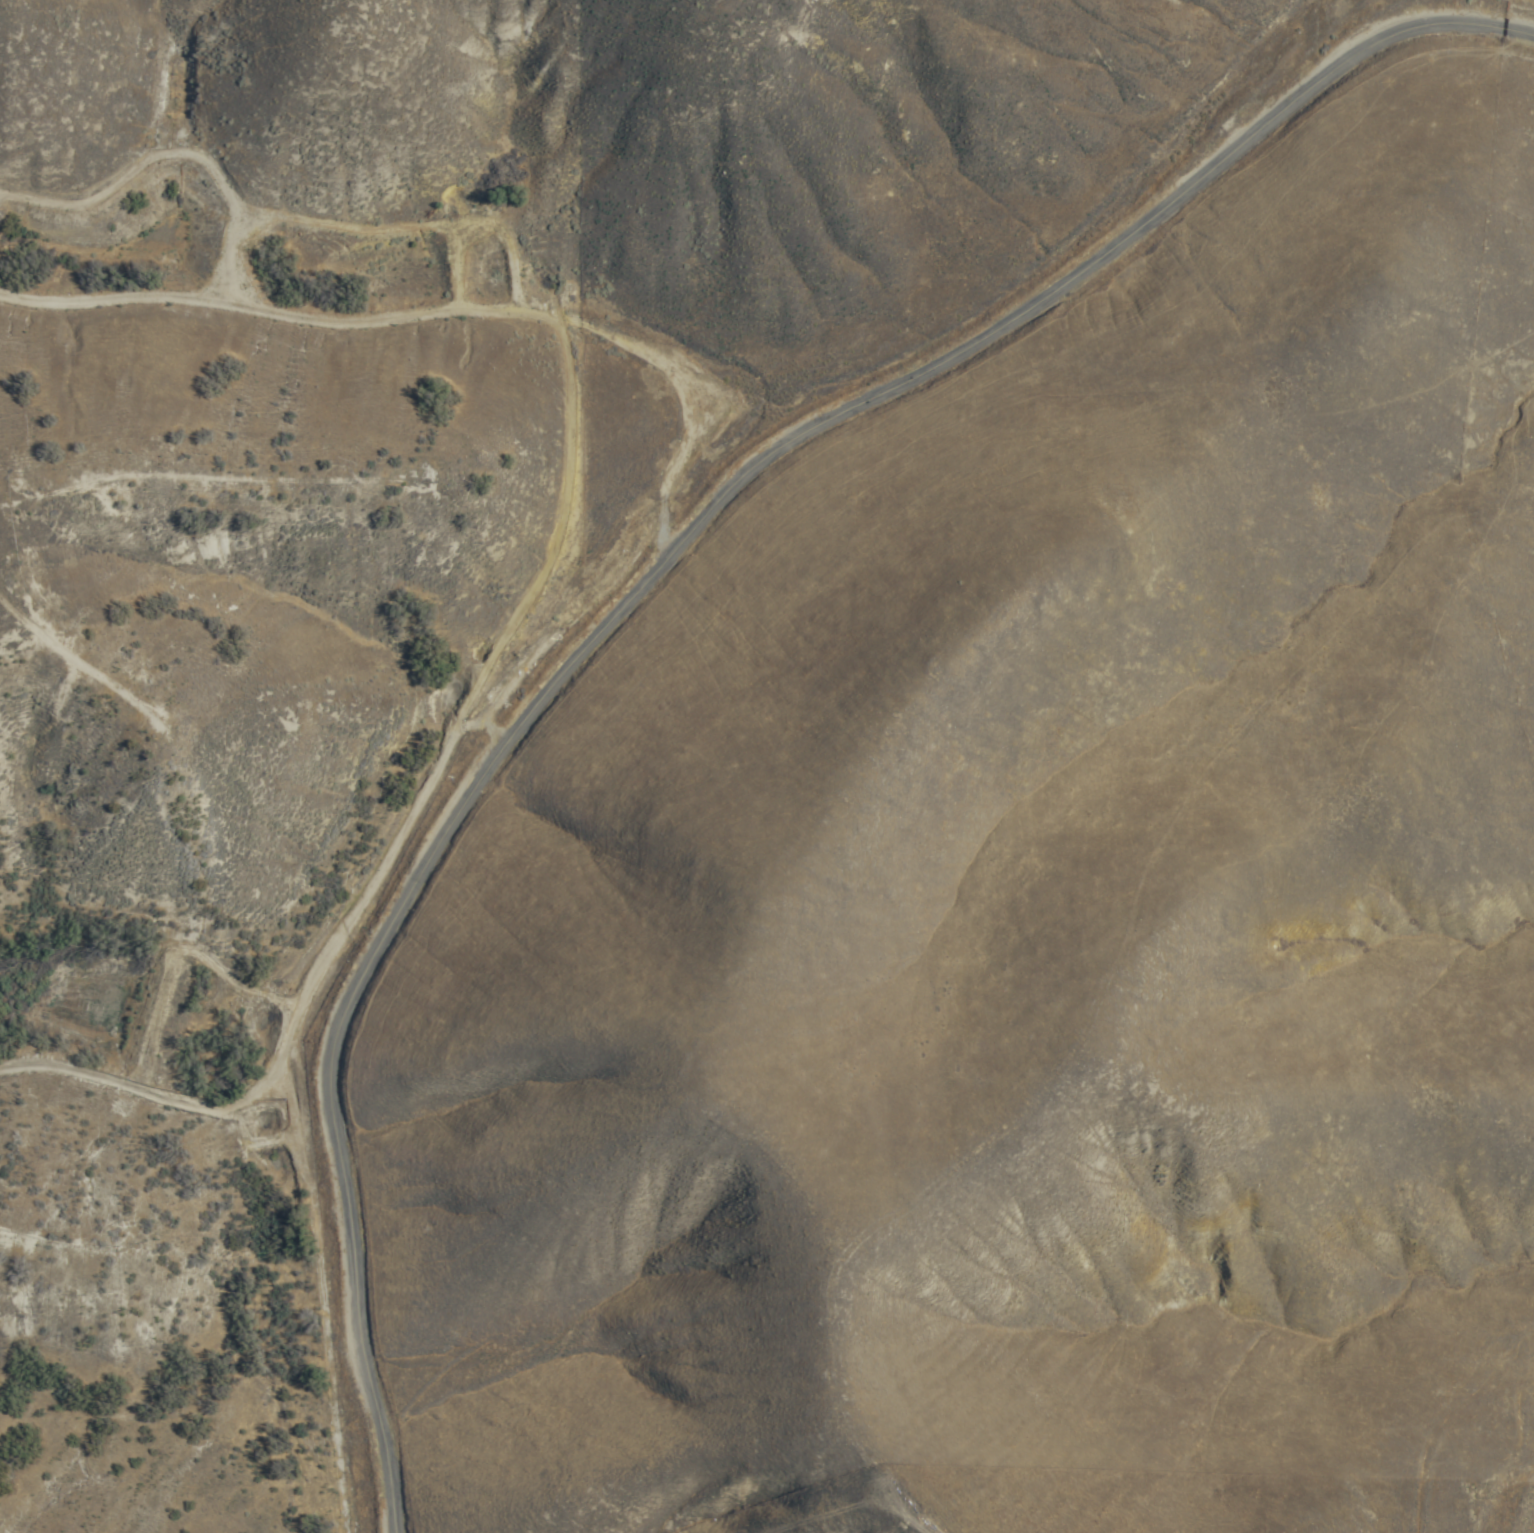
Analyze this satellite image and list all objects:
road: (421, 335)
road: (652, 575)
road: (307, 847)
road: (1383, 1493)

